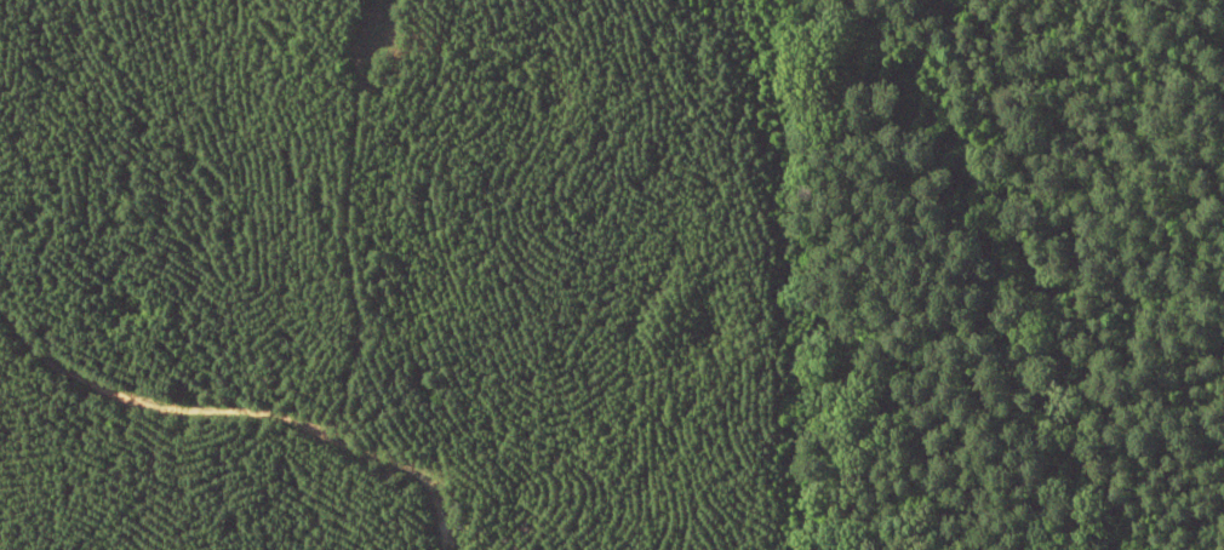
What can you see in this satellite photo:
road: (262, 453)

